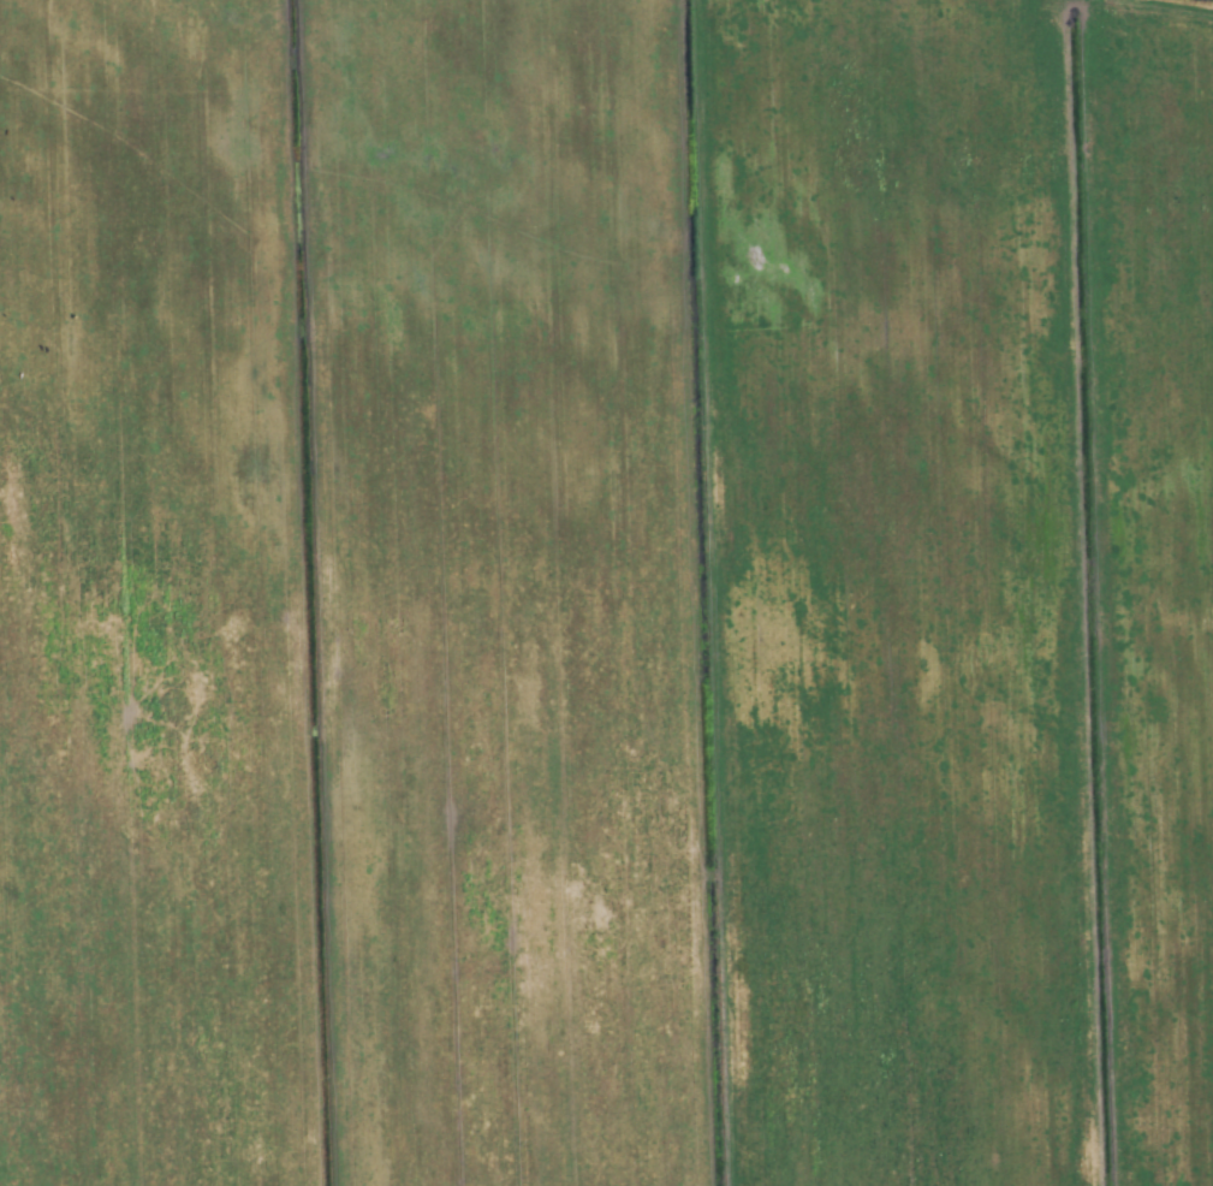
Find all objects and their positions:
crop: (606, 593)

